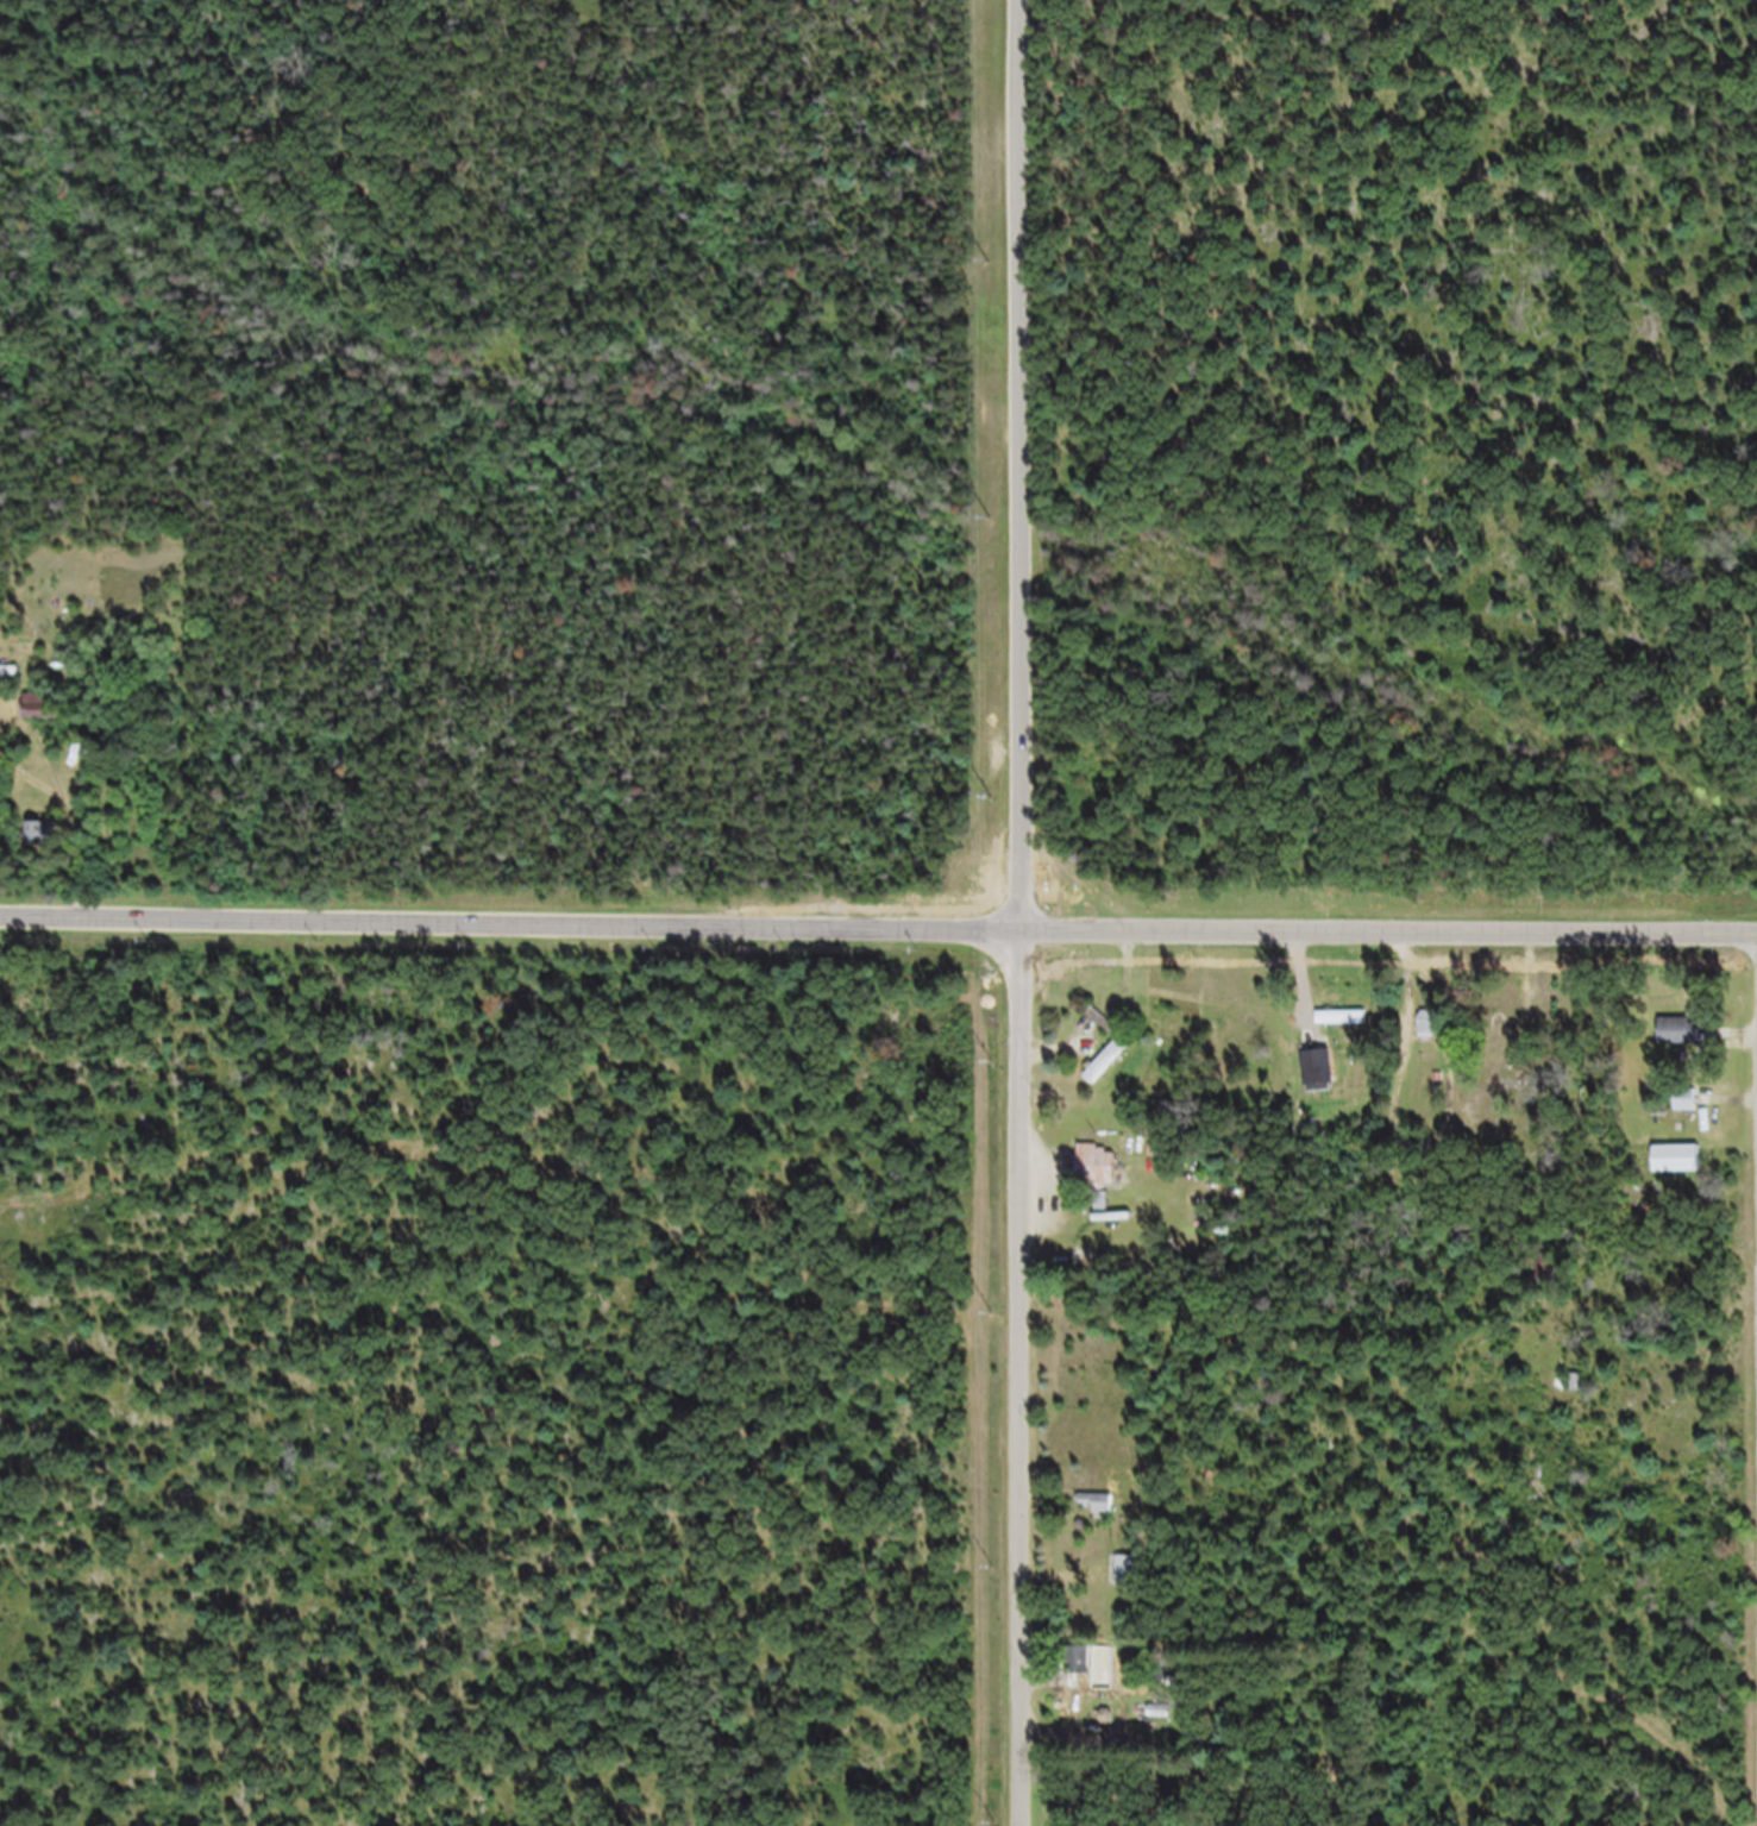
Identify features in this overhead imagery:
building: (12, 683)
building: (49, 719)
building: (45, 843)
road: (1022, 912)
road: (512, 935)
road: (1389, 943)
building: (1525, 1019)
building: (1331, 1028)
building: (1429, 1034)
building: (1176, 1039)
building: (1677, 1042)
building: (1105, 1074)
building: (1317, 1077)
building: (1686, 1111)
building: (1096, 1176)
building: (1094, 1516)
building: (1125, 1579)
building: (1081, 1670)
building: (1160, 1723)

